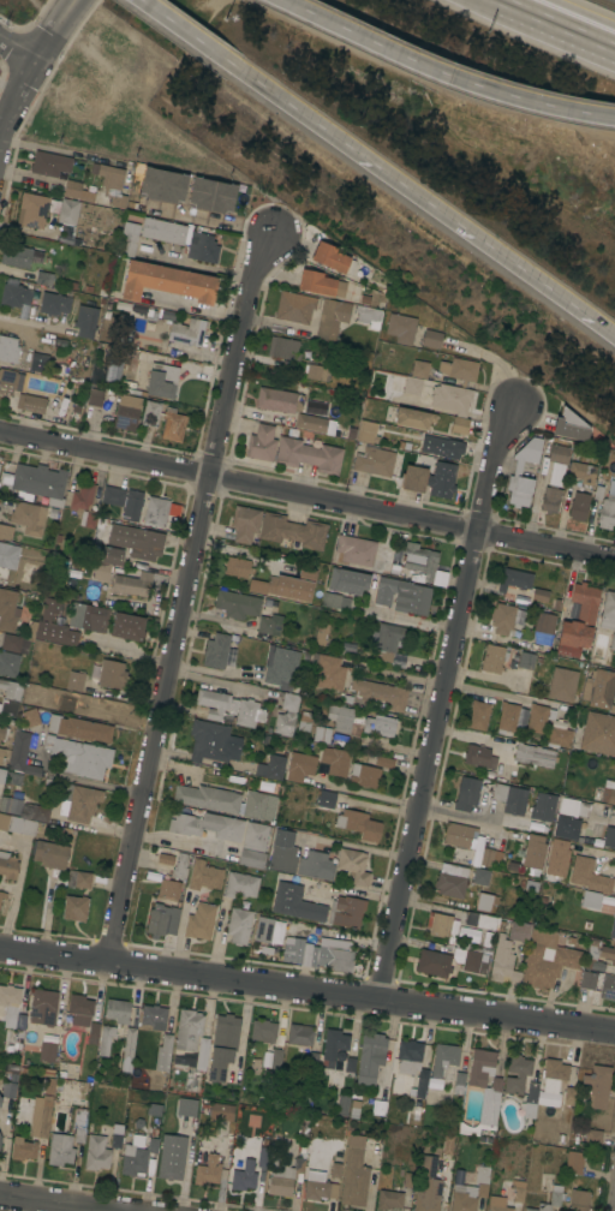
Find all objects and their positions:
railway: (607, 2)
road: (561, 22)
road: (195, 40)
road: (17, 50)
road: (31, 65)
road: (442, 73)
road: (62, 151)
building: (50, 163)
building: (112, 184)
building: (162, 185)
building: (78, 191)
building: (210, 195)
road: (434, 207)
building: (31, 210)
building: (68, 211)
road: (209, 219)
building: (163, 231)
building: (129, 239)
building: (202, 247)
building: (16, 256)
building: (329, 257)
building: (44, 279)
building: (167, 282)
building: (321, 284)
building: (14, 296)
building: (54, 304)
building: (294, 308)
building: (137, 310)
building: (369, 316)
building: (332, 318)
building: (85, 321)
building: (119, 328)
building: (400, 328)
building: (187, 332)
building: (431, 339)
building: (283, 347)
building: (8, 350)
building: (38, 363)
building: (419, 369)
building: (459, 370)
building: (317, 372)
building: (10, 381)
building: (160, 381)
building: (406, 383)
building: (96, 398)
building: (450, 398)
building: (279, 400)
building: (30, 402)
building: (127, 413)
building: (151, 413)
building: (414, 418)
building: (310, 423)
building: (172, 425)
building: (459, 425)
building: (571, 426)
building: (366, 431)
building: (261, 443)
building: (447, 449)
building: (559, 454)
building: (309, 455)
building: (374, 460)
building: (517, 470)
building: (583, 472)
building: (428, 477)
building: (40, 482)
building: (85, 496)
building: (113, 496)
road: (306, 499)
building: (550, 500)
building: (132, 506)
building: (579, 506)
building: (156, 512)
building: (607, 512)
building: (28, 517)
building: (245, 524)
building: (5, 531)
building: (292, 531)
building: (137, 542)
building: (354, 550)
building: (8, 555)
building: (419, 560)
building: (107, 562)
building: (238, 567)
building: (514, 579)
building: (347, 581)
building: (131, 584)
building: (287, 585)
building: (402, 595)
building: (539, 595)
road: (185, 596)
building: (335, 601)
building: (237, 604)
building: (7, 610)
building: (608, 612)
building: (502, 618)
building: (578, 621)
building: (66, 622)
road: (418, 622)
building: (544, 622)
building: (269, 625)
building: (127, 626)
building: (320, 634)
building: (387, 642)
building: (613, 642)
building: (16, 643)
building: (216, 651)
road: (131, 655)
building: (492, 658)
building: (525, 660)
building: (8, 663)
building: (281, 667)
building: (328, 673)
building: (109, 675)
road: (402, 676)
building: (76, 681)
building: (562, 684)
road: (217, 685)
building: (599, 688)
building: (381, 694)
road: (506, 694)
building: (10, 697)
building: (289, 703)
building: (217, 705)
road: (440, 706)
building: (249, 712)
building: (478, 715)
building: (31, 717)
building: (340, 717)
building: (507, 717)
building: (537, 718)
building: (305, 722)
building: (283, 724)
building: (378, 726)
building: (79, 728)
building: (4, 732)
building: (598, 733)
building: (322, 735)
building: (559, 736)
building: (211, 741)
building: (1, 753)
building: (22, 753)
building: (533, 756)
building: (79, 757)
building: (479, 757)
building: (335, 760)
building: (384, 762)
building: (274, 766)
building: (300, 766)
road: (174, 768)
building: (2, 776)
building: (364, 776)
building: (13, 780)
building: (605, 792)
road: (366, 793)
building: (466, 794)
building: (208, 798)
building: (327, 799)
building: (510, 799)
building: (79, 803)
building: (10, 805)
building: (259, 805)
building: (543, 806)
building: (38, 813)
building: (0, 817)
building: (562, 817)
road: (464, 819)
building: (359, 824)
building: (19, 825)
building: (211, 830)
building: (459, 835)
building: (609, 836)
road: (354, 847)
road: (601, 851)
building: (283, 852)
building: (533, 852)
building: (50, 854)
building: (490, 857)
building: (557, 858)
building: (165, 859)
building: (252, 859)
building: (7, 864)
building: (315, 865)
building: (180, 866)
building: (353, 866)
building: (204, 876)
building: (480, 877)
building: (78, 879)
building: (452, 879)
building: (590, 882)
building: (240, 884)
building: (172, 889)
building: (2, 897)
building: (485, 901)
building: (295, 903)
building: (74, 907)
building: (347, 912)
building: (480, 920)
building: (162, 921)
building: (199, 921)
building: (239, 925)
building: (440, 926)
building: (613, 929)
building: (262, 930)
building: (519, 932)
building: (608, 954)
building: (318, 956)
building: (593, 959)
building: (471, 961)
building: (434, 962)
building: (503, 962)
building: (547, 965)
building: (587, 980)
building: (607, 988)
road: (306, 991)
building: (43, 1007)
building: (12, 1008)
building: (79, 1009)
building: (118, 1012)
building: (154, 1018)
building: (263, 1031)
building: (187, 1032)
building: (300, 1034)
building: (106, 1039)
building: (333, 1046)
building: (222, 1048)
building: (127, 1050)
building: (47, 1052)
building: (202, 1055)
building: (163, 1057)
building: (370, 1057)
building: (443, 1058)
building: (275, 1061)
building: (412, 1064)
building: (555, 1069)
building: (517, 1073)
building: (459, 1082)
building: (597, 1086)
building: (7, 1090)
building: (269, 1092)
building: (484, 1092)
building: (531, 1096)
building: (568, 1098)
building: (0, 1100)
building: (342, 1105)
building: (186, 1106)
building: (221, 1111)
building: (42, 1117)
building: (79, 1126)
building: (115, 1138)
building: (593, 1138)
building: (0, 1139)
building: (24, 1150)
building: (60, 1150)
building: (96, 1153)
building: (137, 1155)
building: (172, 1157)
building: (263, 1157)
building: (336, 1163)
building: (574, 1163)
building: (208, 1171)
building: (354, 1174)
building: (283, 1175)
building: (244, 1176)
building: (482, 1181)
building: (428, 1185)
building: (318, 1187)
building: (518, 1187)
building: (550, 1199)
building: (389, 1200)
building: (461, 1200)
building: (579, 1200)
road: (61, 1201)
building: (497, 1204)

